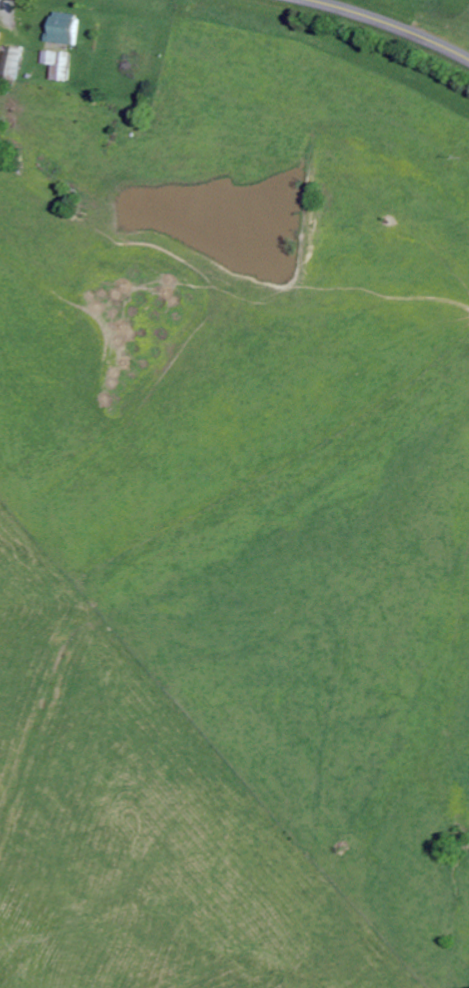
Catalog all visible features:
road: (391, 23)
building: (67, 29)
building: (15, 63)
building: (60, 66)

